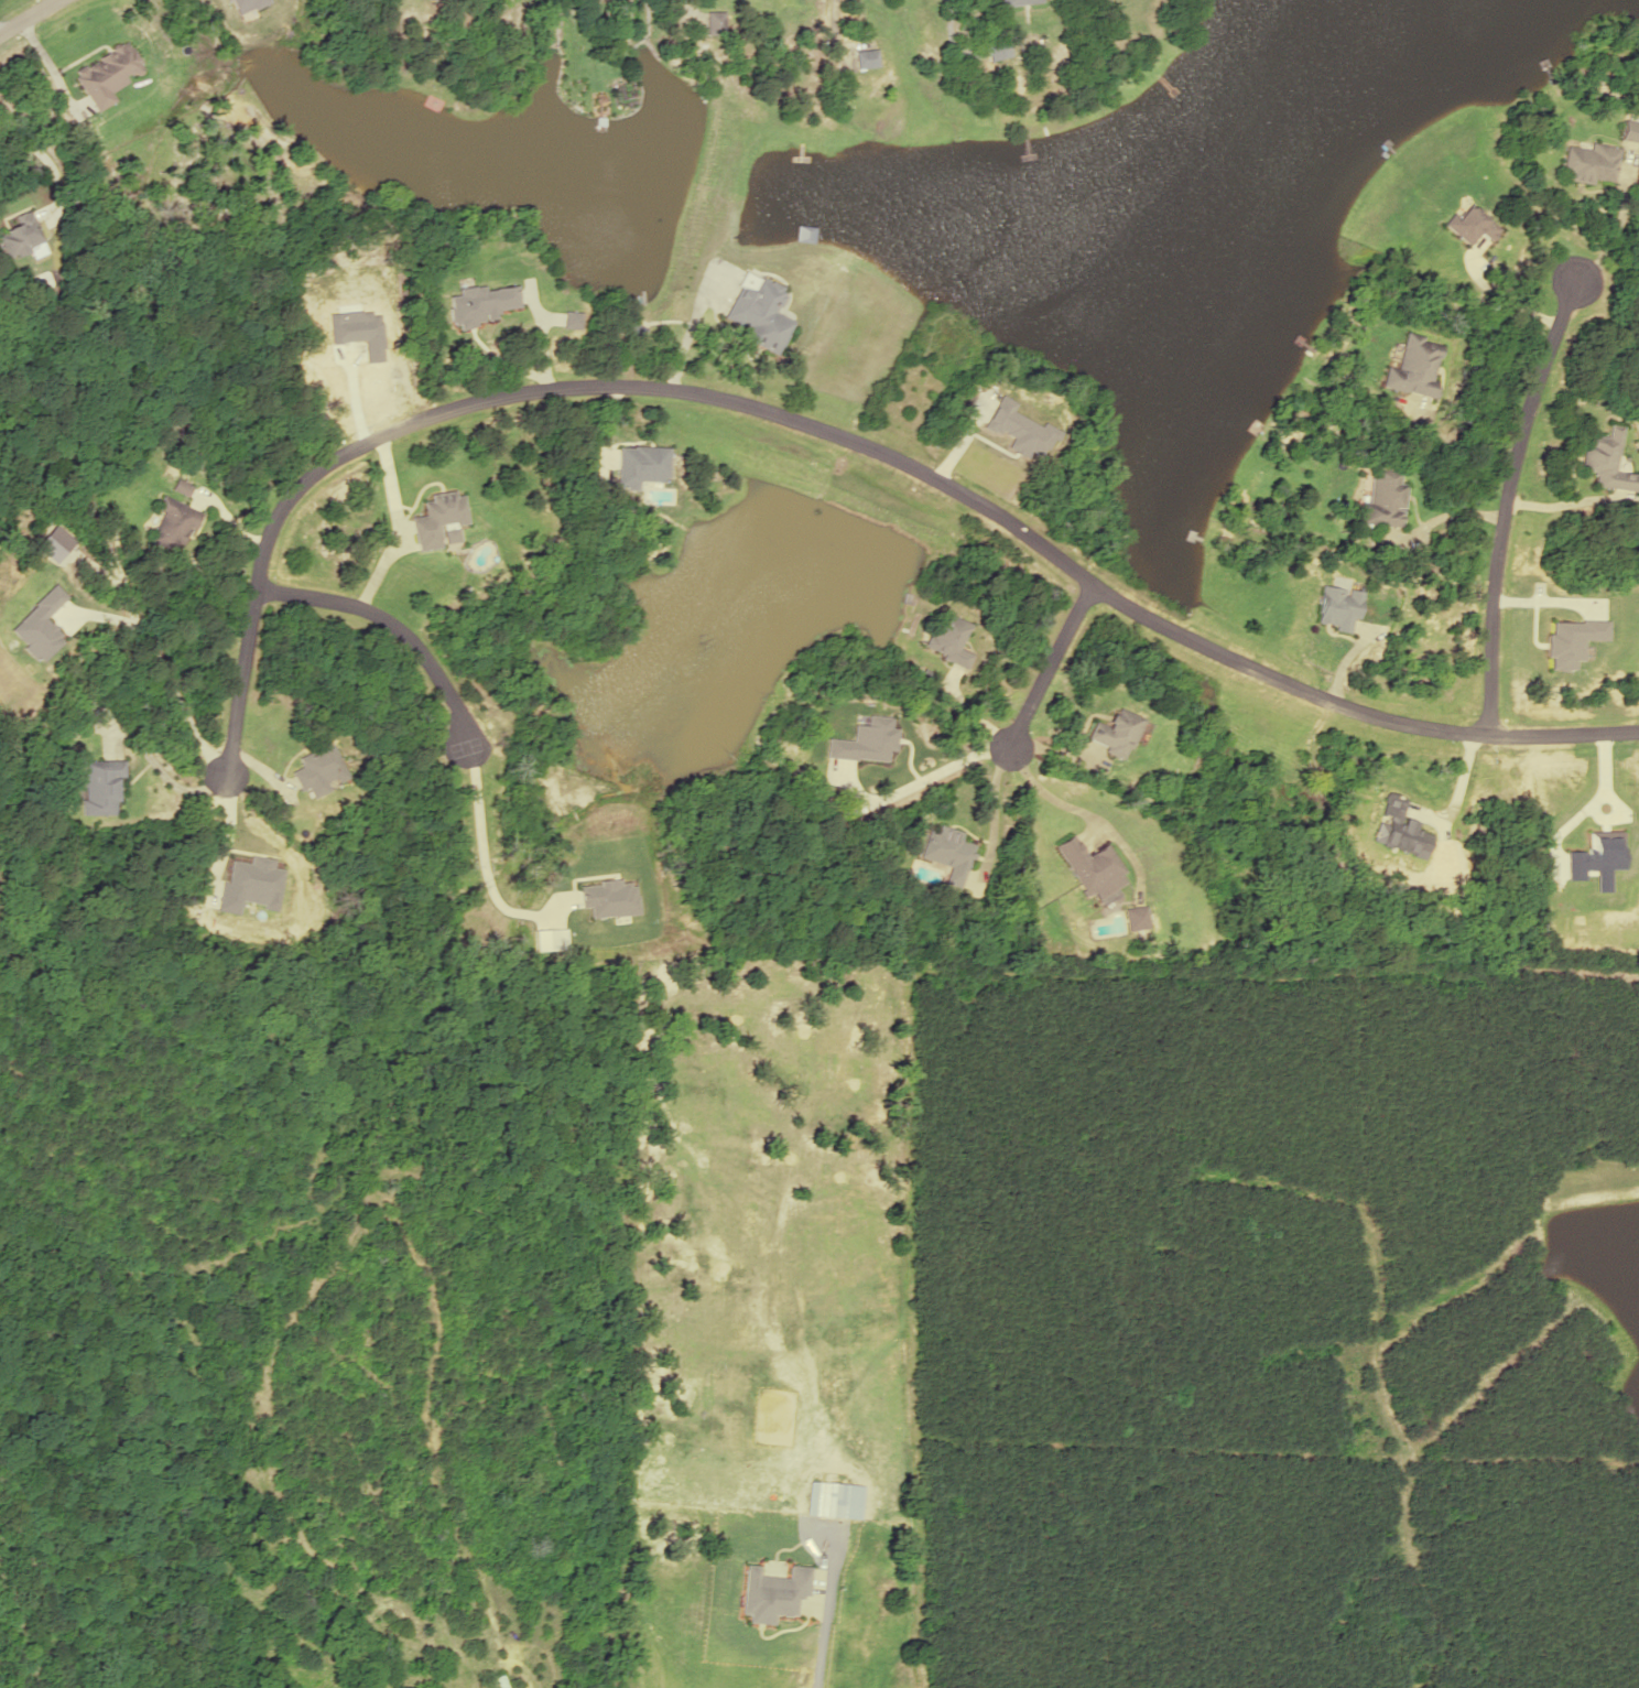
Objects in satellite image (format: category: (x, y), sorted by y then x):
building: (1012, 1)
road: (28, 15)
building: (712, 22)
building: (994, 50)
building: (864, 57)
building: (105, 75)
building: (1628, 130)
building: (1586, 163)
building: (1468, 225)
building: (19, 234)
building: (479, 304)
building: (757, 312)
building: (569, 320)
road: (839, 437)
building: (1605, 461)
building: (178, 488)
building: (1381, 498)
road: (1506, 504)
building: (435, 518)
building: (170, 523)
building: (1335, 607)
road: (391, 626)
building: (946, 638)
road: (1046, 662)
building: (1112, 731)
building: (318, 770)
building: (100, 786)
building: (946, 852)
building: (1096, 874)
building: (1136, 918)
building: (832, 1501)
building: (499, 1681)

